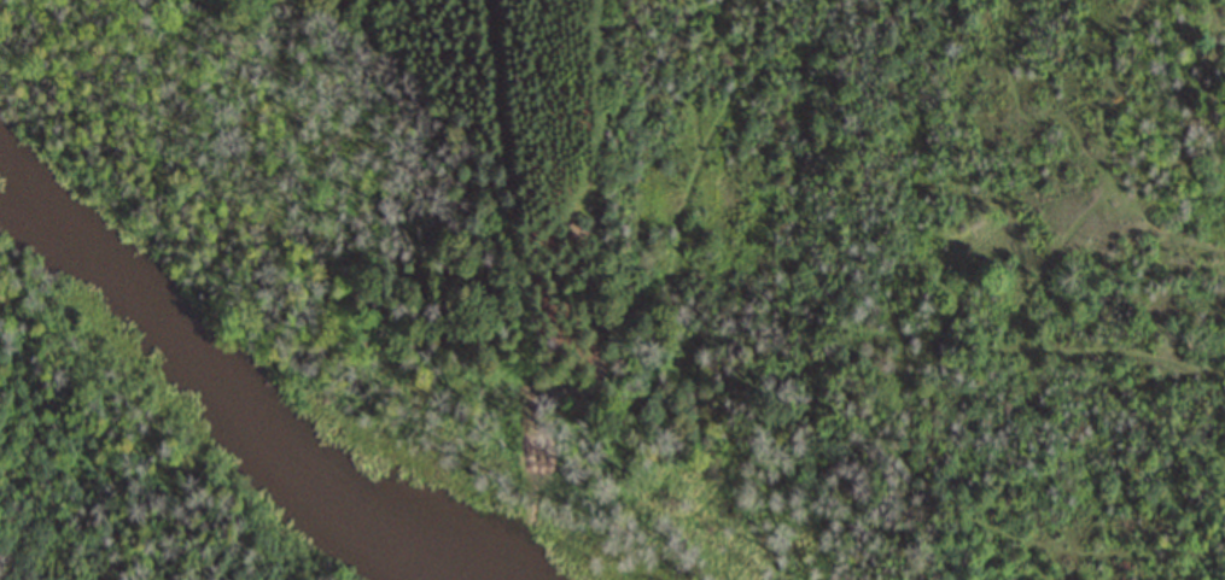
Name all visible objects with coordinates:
river: (216, 375)

